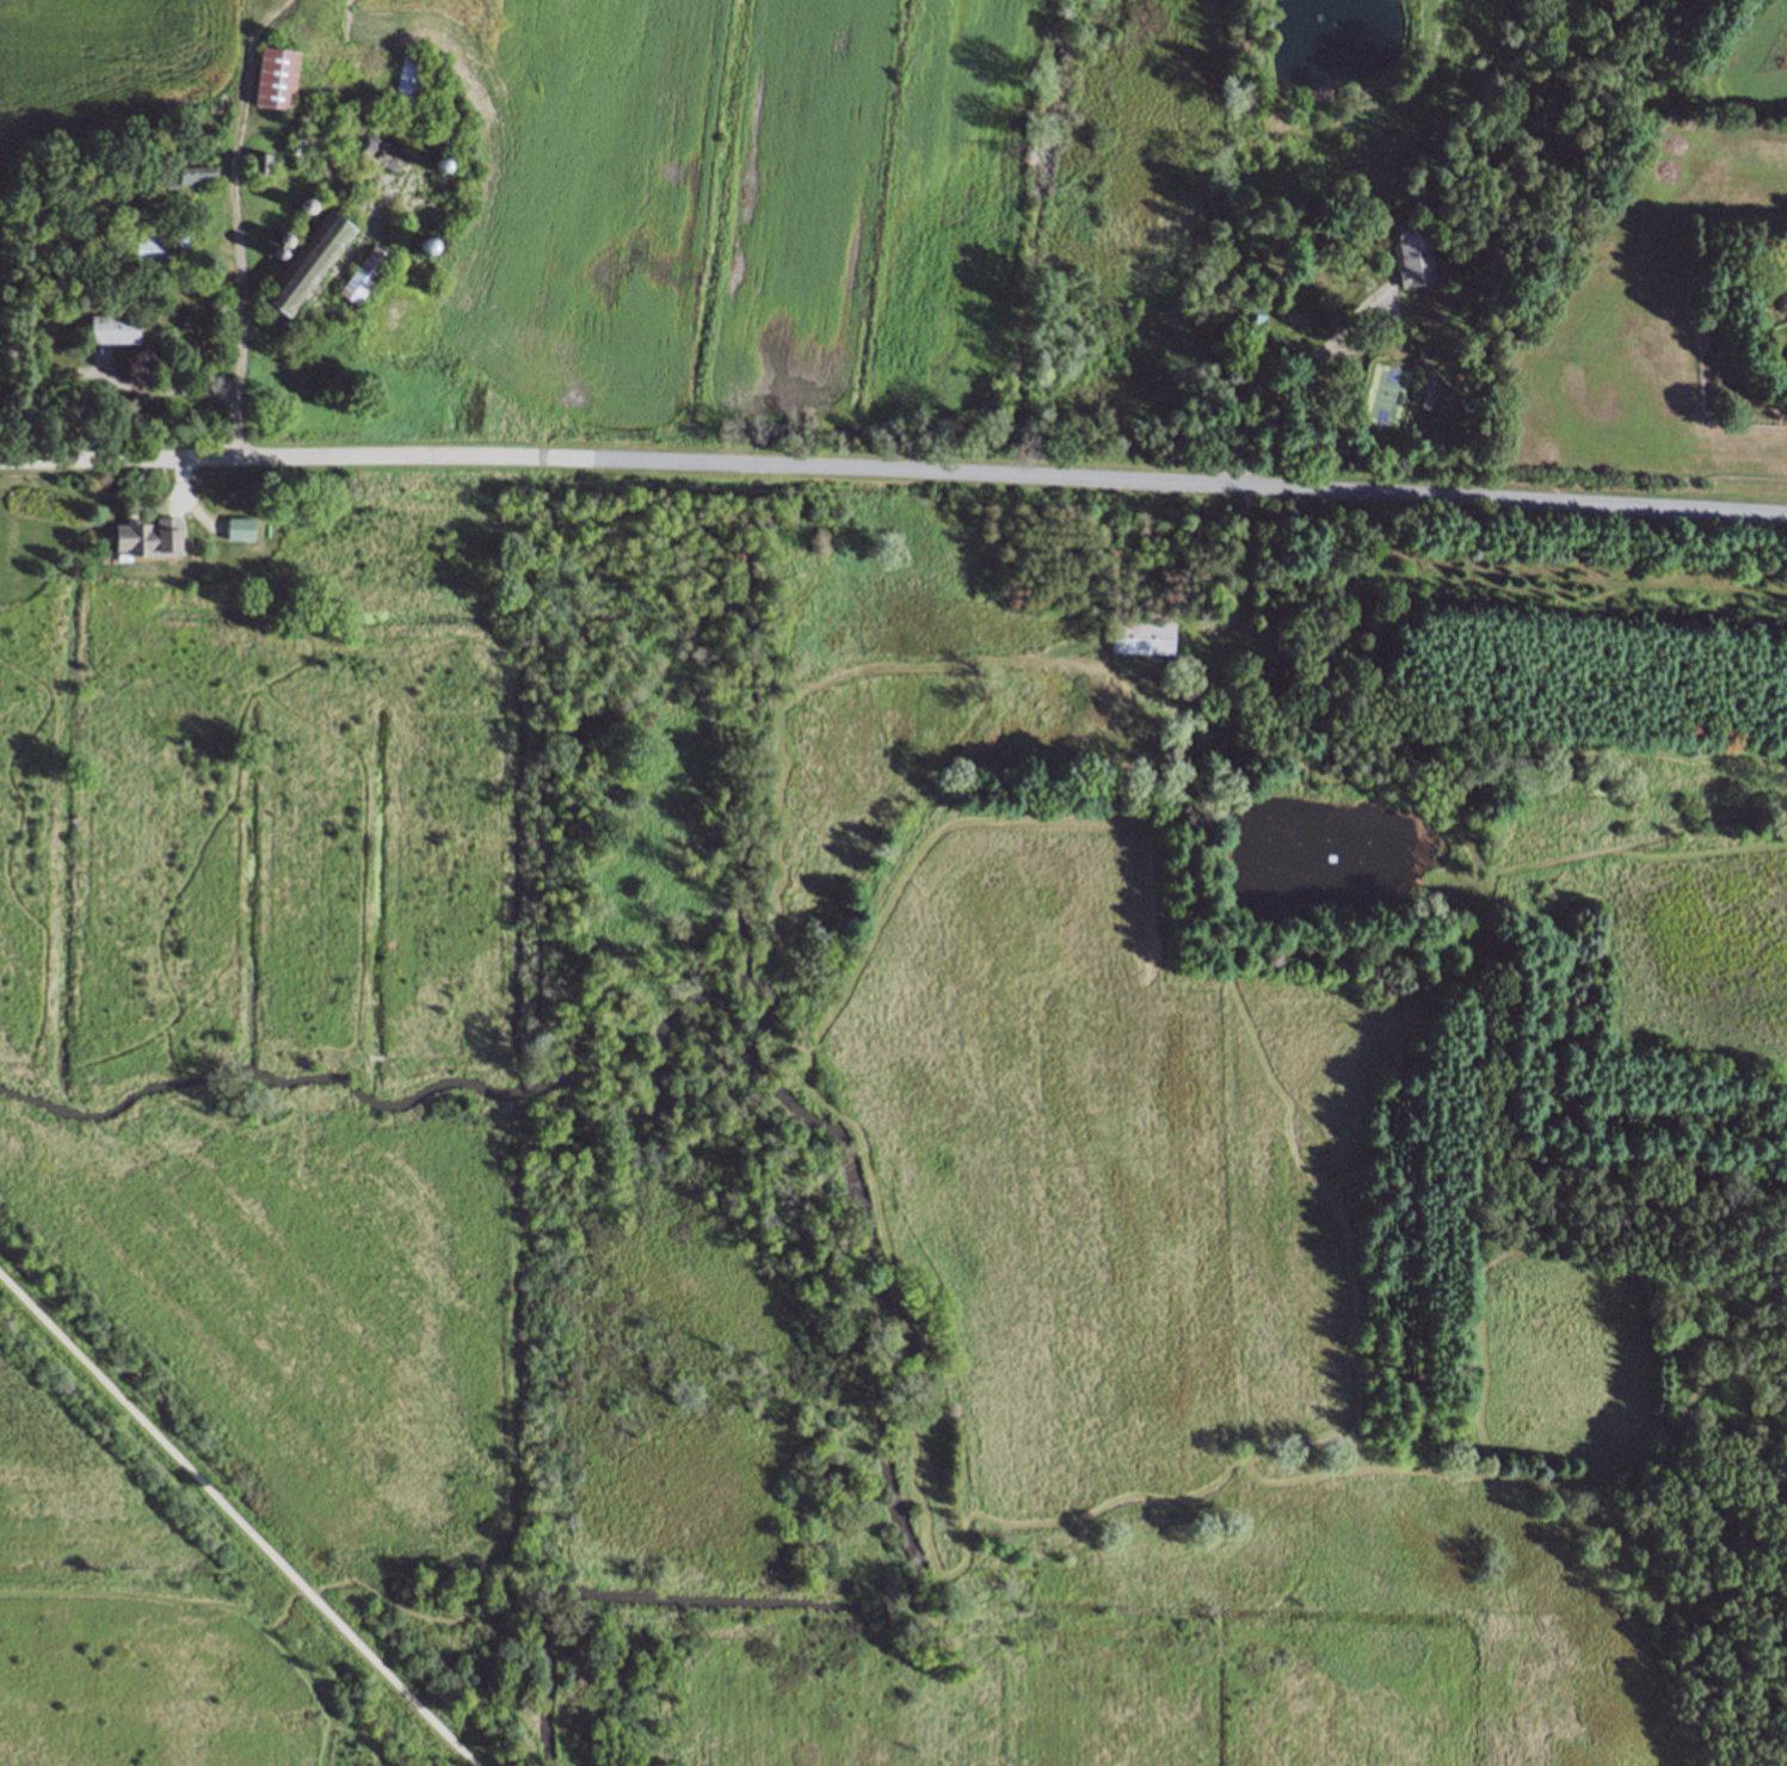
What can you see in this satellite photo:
building: (276, 76)
building: (408, 80)
building: (222, 115)
building: (309, 134)
building: (380, 150)
building: (261, 161)
building: (180, 172)
building: (160, 248)
building: (1415, 251)
building: (304, 264)
building: (365, 275)
road: (230, 301)
building: (115, 327)
building: (1251, 330)
road: (1330, 341)
road: (150, 388)
road: (893, 470)
building: (241, 527)
building: (147, 536)
road: (1244, 576)
building: (1158, 611)
building: (1142, 636)
road: (236, 1520)

